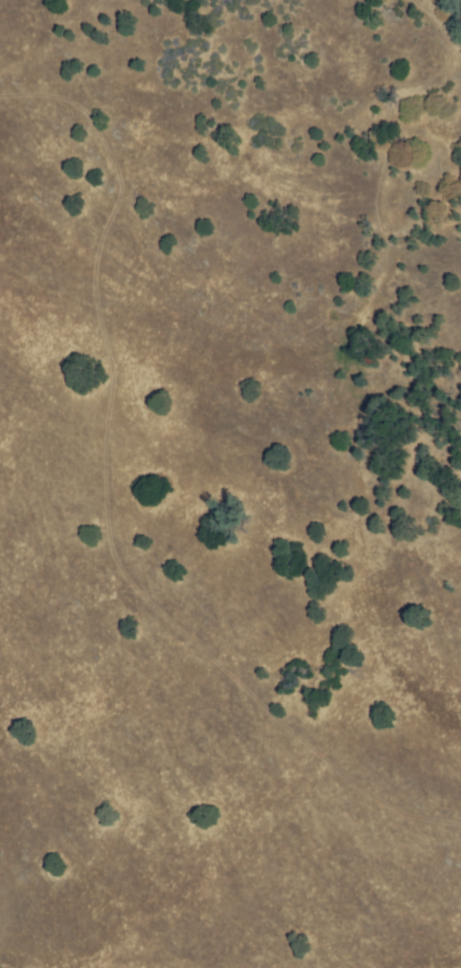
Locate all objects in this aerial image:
road: (99, 504)

